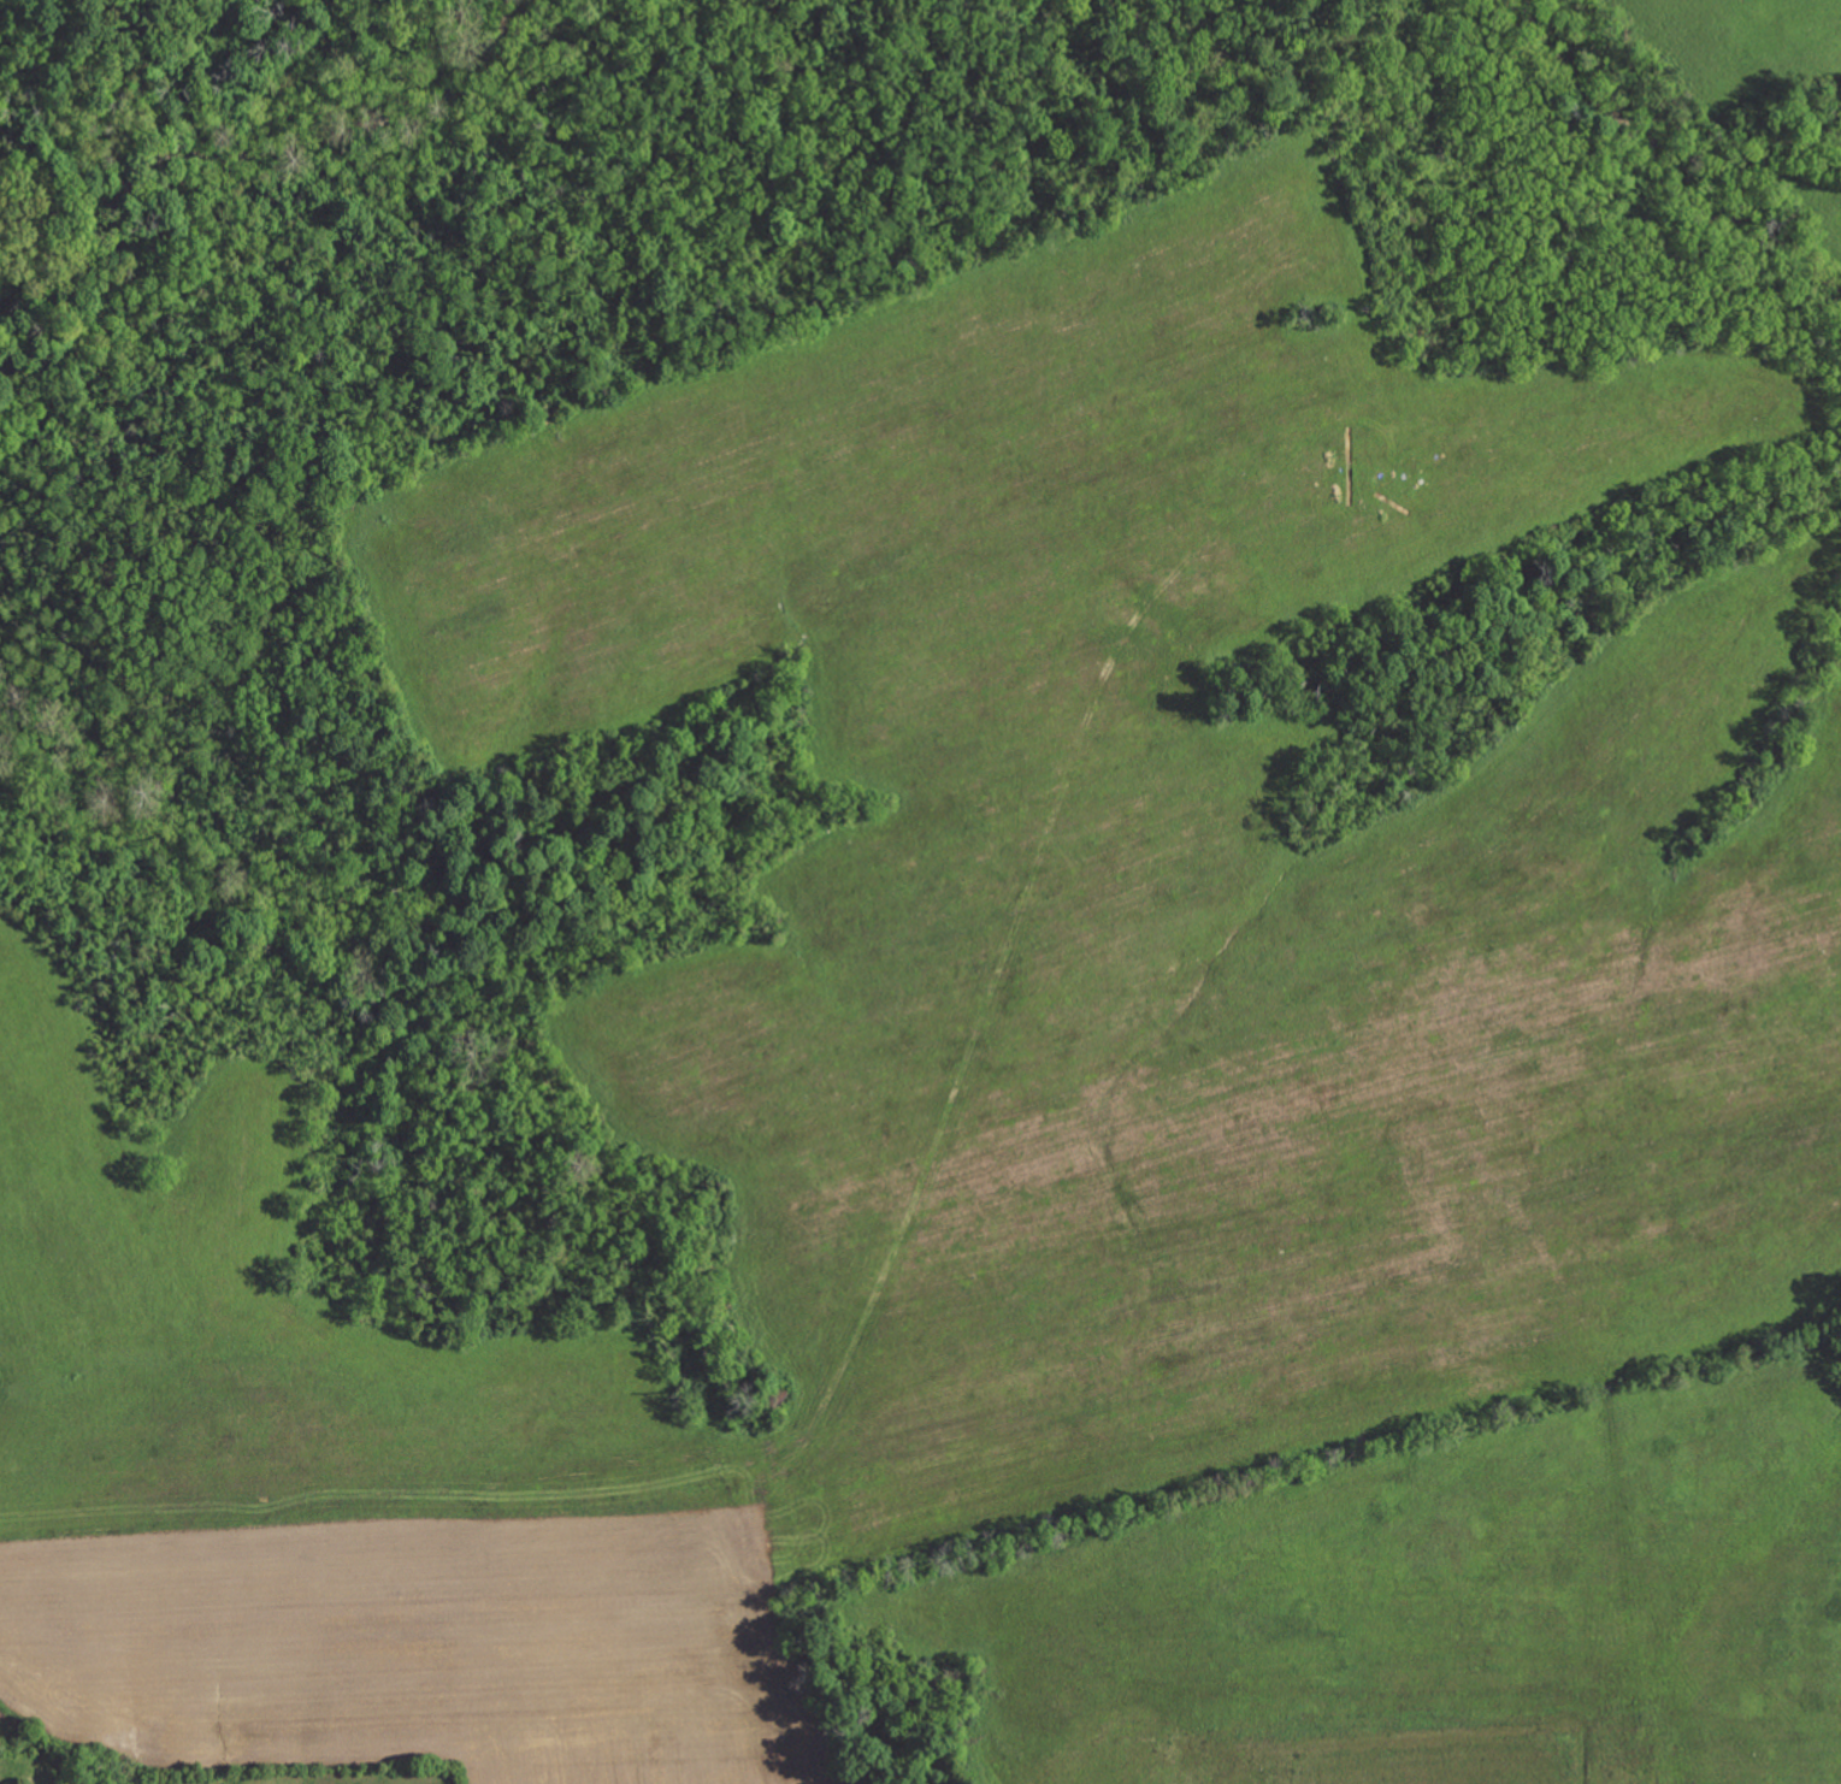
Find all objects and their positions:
crop: (1032, 1094)

